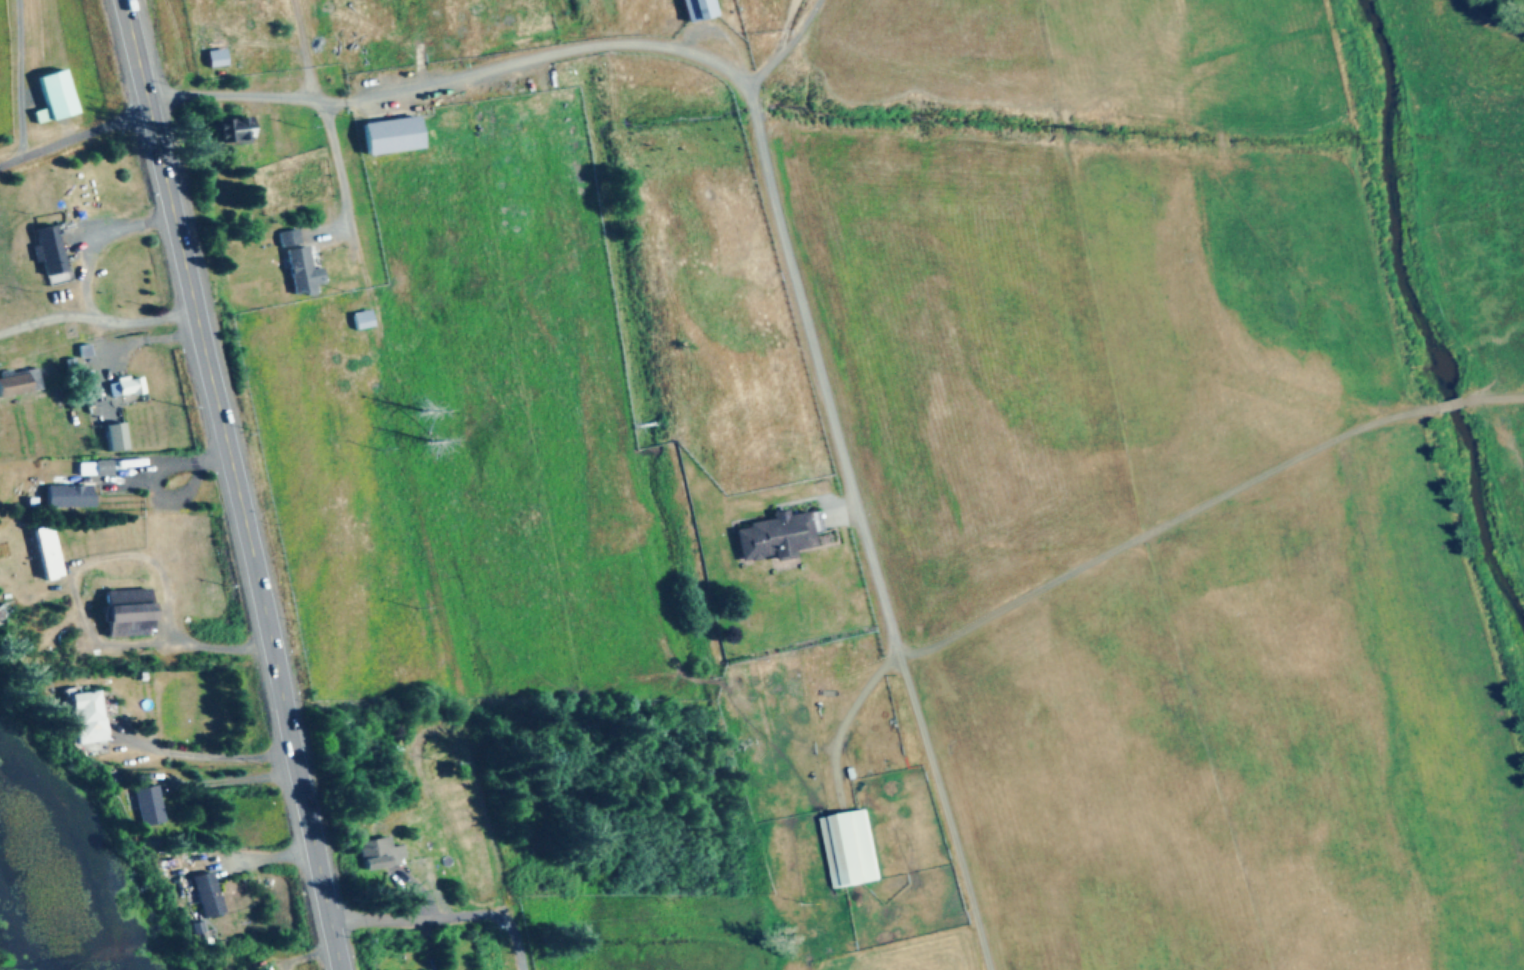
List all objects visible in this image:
building: (701, 9)
road: (795, 47)
railway: (317, 51)
building: (217, 58)
building: (58, 96)
building: (245, 131)
building: (394, 135)
road: (773, 149)
road: (346, 178)
building: (291, 238)
building: (52, 255)
building: (304, 271)
road: (97, 318)
river: (1420, 318)
building: (366, 319)
building: (21, 383)
building: (129, 387)
building: (95, 469)
road: (234, 484)
building: (71, 497)
road: (1208, 508)
building: (780, 537)
building: (48, 553)
road: (437, 585)
building: (126, 619)
building: (86, 715)
building: (148, 806)
building: (853, 849)
building: (383, 852)
building: (208, 896)
road: (418, 920)
road: (520, 942)

